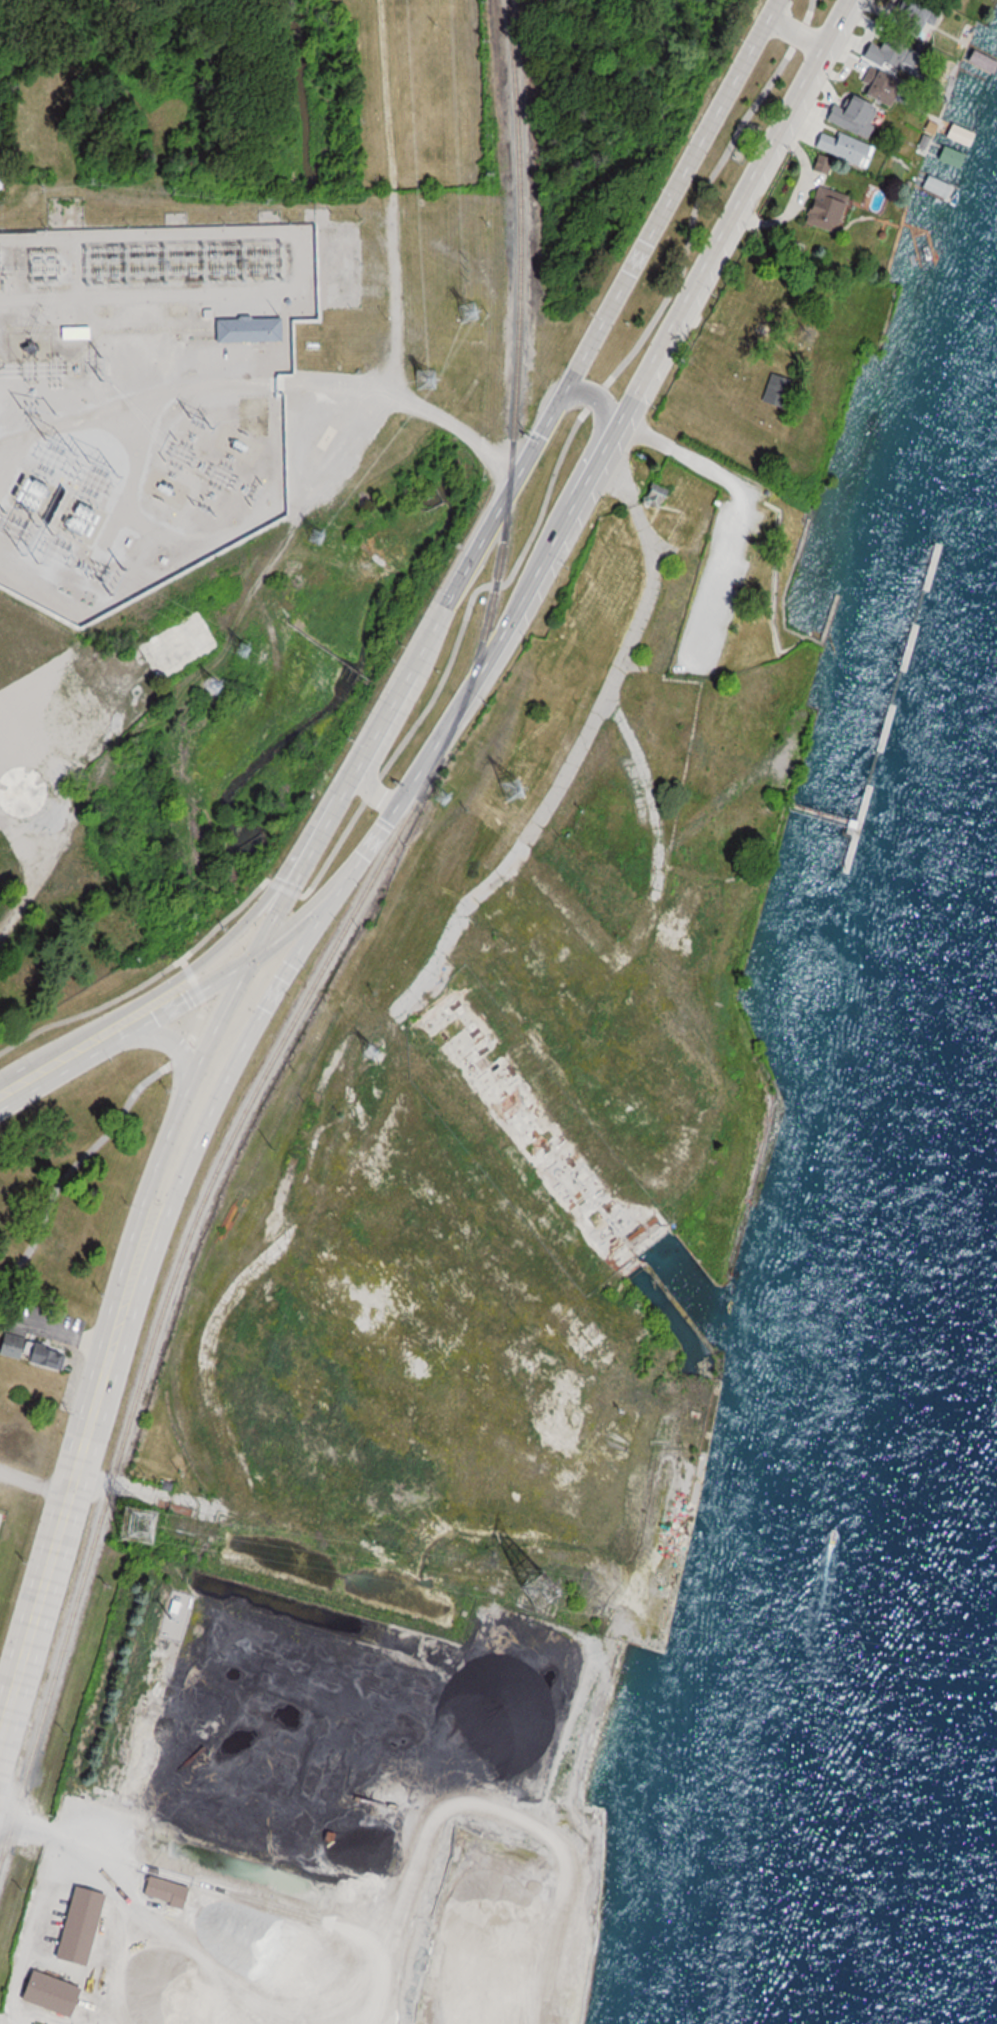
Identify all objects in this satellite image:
road: (795, 32)
road: (162, 292)
power tower: (471, 312)
building: (251, 330)
building: (79, 333)
power tower: (430, 380)
power substation: (148, 393)
road: (140, 398)
road: (409, 401)
road: (602, 408)
road: (533, 445)
road: (601, 451)
road: (134, 474)
road: (149, 525)
road: (534, 528)
power tower: (320, 538)
road: (20, 568)
building: (185, 645)
power tower: (246, 652)
power tower: (218, 689)
road: (578, 747)
park: (673, 753)
building: (14, 766)
road: (369, 784)
power tower: (514, 788)
power tower: (449, 799)
road: (655, 823)
road: (15, 897)
road: (271, 923)
road: (295, 924)
railway: (336, 944)
road: (203, 960)
road: (188, 998)
road: (164, 1037)
power tower: (376, 1049)
road: (237, 1057)
road: (58, 1061)
road: (189, 1088)
road: (117, 1119)
road: (55, 1330)
building: (29, 1350)
park: (24, 1475)
road: (34, 1482)
road: (71, 1482)
power tower: (141, 1528)
power tower: (543, 1599)
road: (66, 1844)

